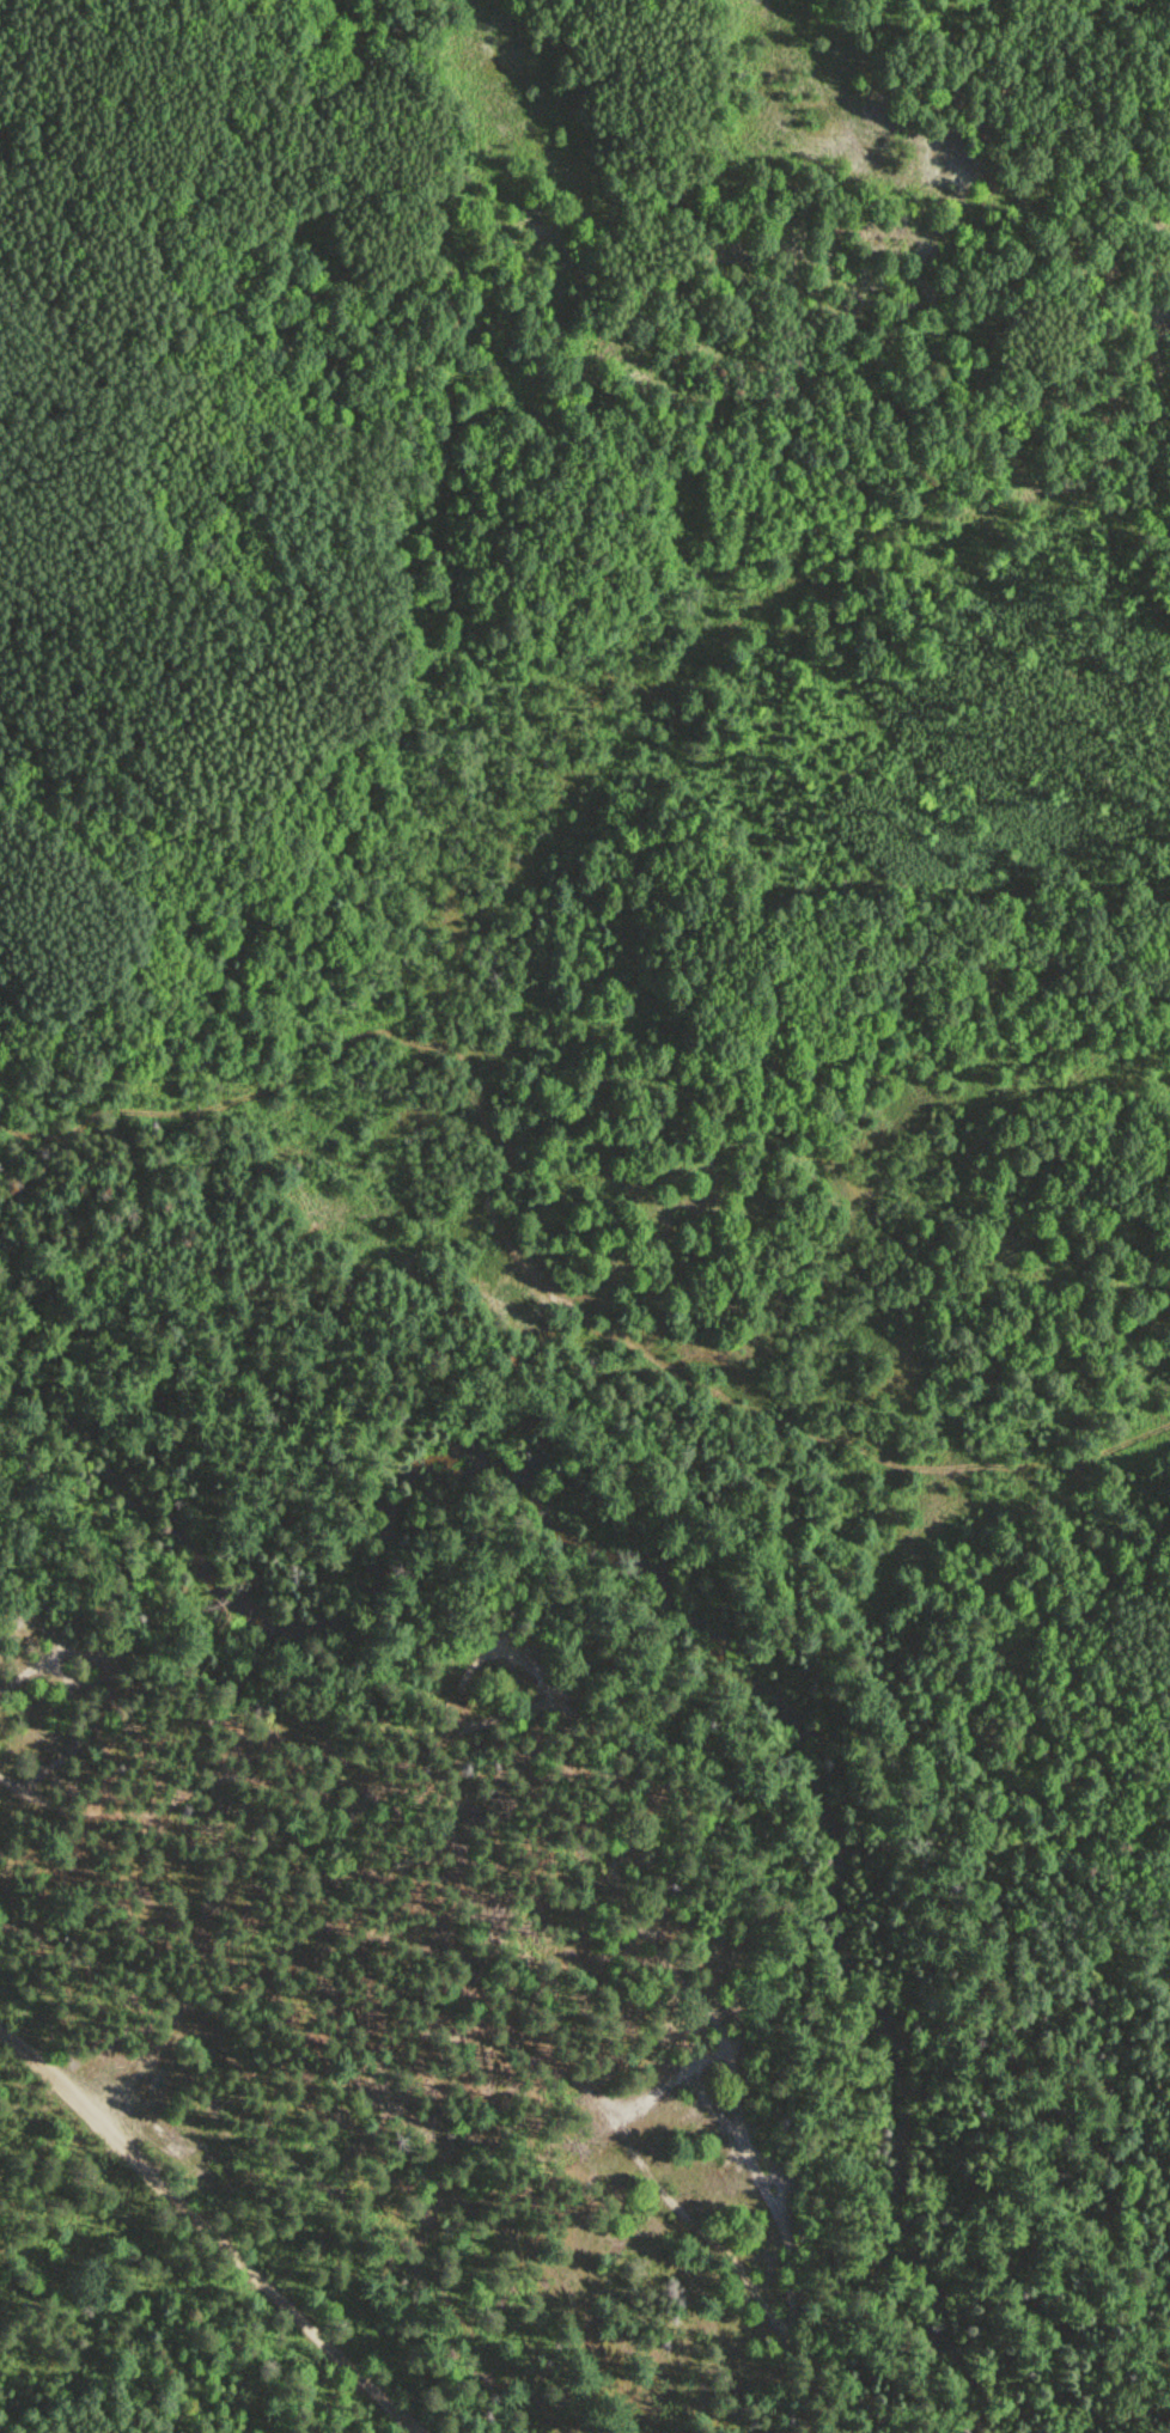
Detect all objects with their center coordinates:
road: (520, 1251)
road: (98, 1665)
road: (22, 1672)
road: (459, 1682)
road: (49, 1766)
road: (33, 1792)
road: (726, 2042)
road: (212, 2226)
road: (1160, 2322)

